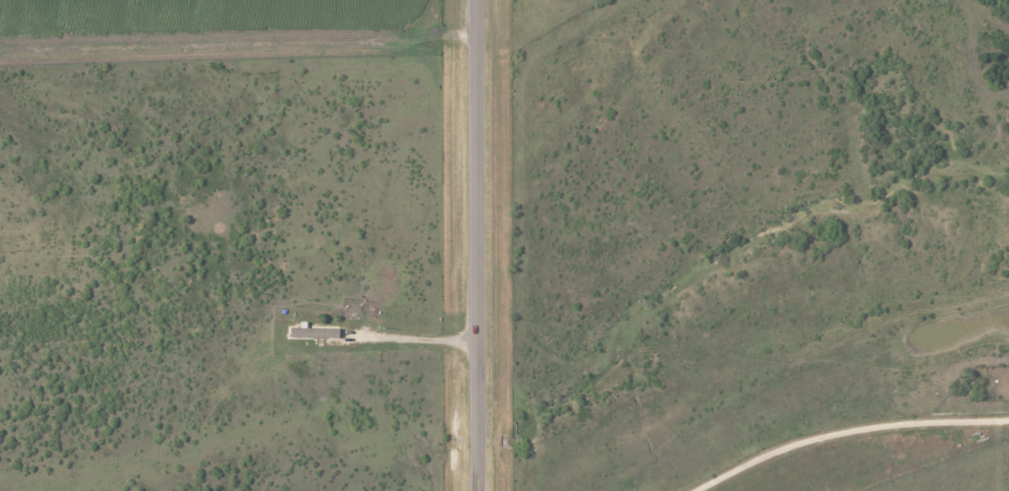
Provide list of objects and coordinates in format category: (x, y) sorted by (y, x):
crop: (195, 19)
road: (456, 38)
road: (219, 48)
road: (474, 245)
building: (313, 332)
road: (385, 335)
road: (456, 341)
road: (848, 417)

